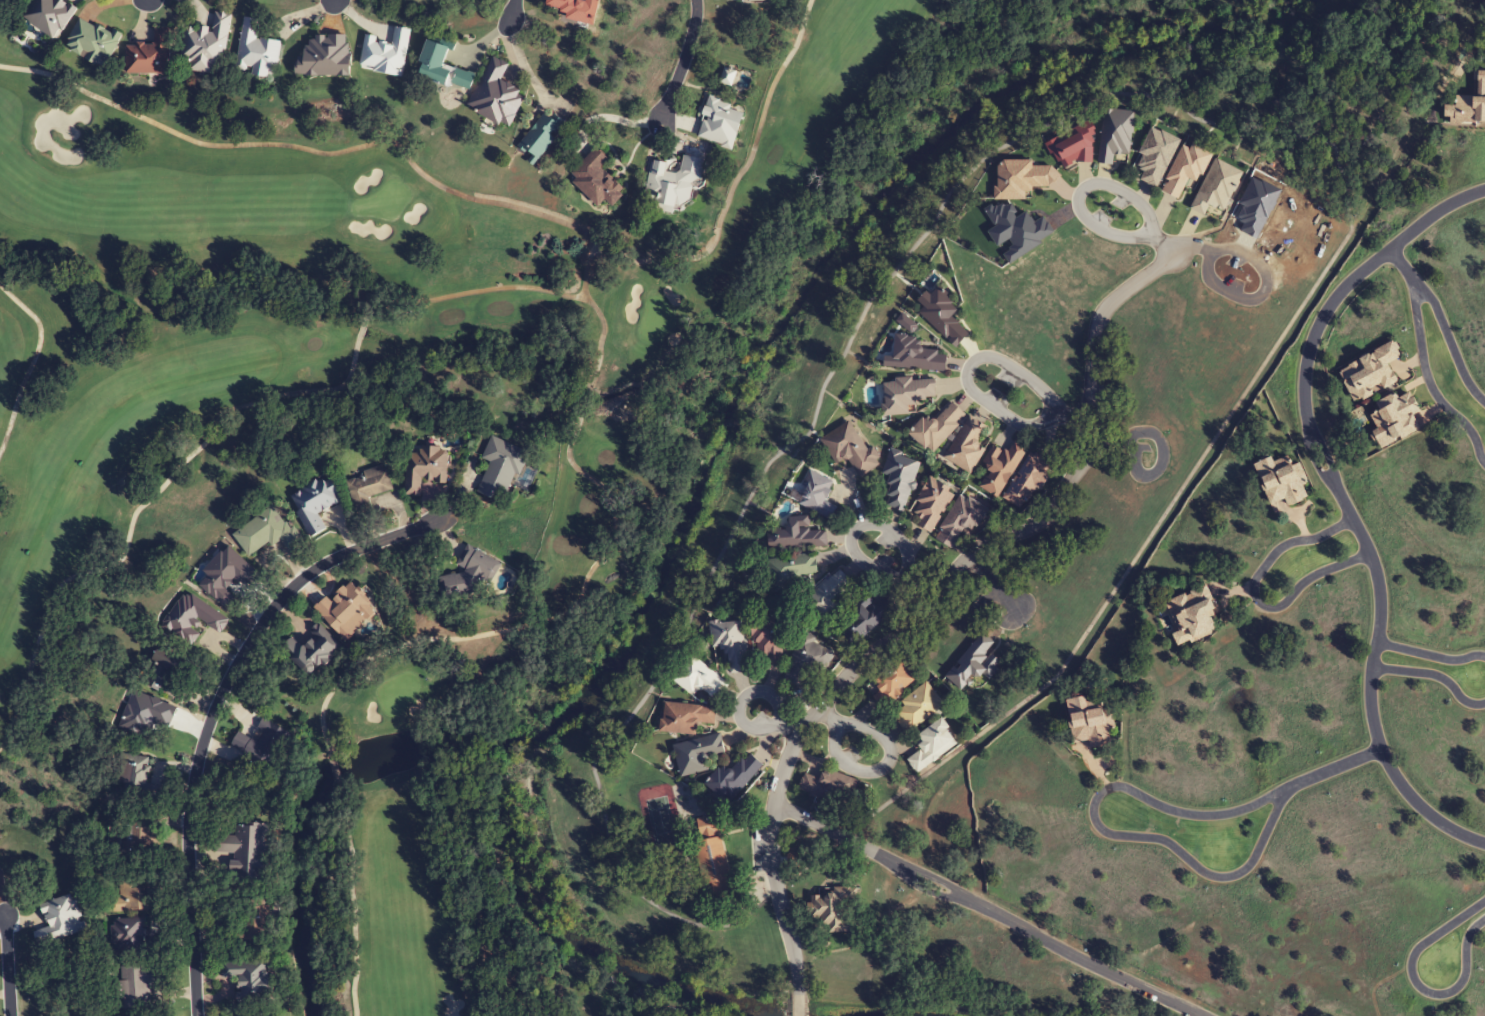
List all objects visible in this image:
building: (744, 0)
road: (334, 1)
park: (1414, 6)
road: (511, 12)
building: (48, 15)
building: (92, 41)
building: (205, 45)
building: (256, 51)
building: (385, 54)
building: (149, 55)
road: (681, 59)
building: (443, 68)
building: (496, 95)
building: (720, 123)
building: (541, 135)
building: (596, 180)
building: (673, 183)
road: (1077, 202)
road: (1165, 246)
road: (1193, 248)
road: (1401, 263)
road: (1248, 298)
road: (1413, 309)
building: (907, 323)
building: (915, 356)
road: (981, 357)
building: (1369, 372)
building: (906, 395)
park: (467, 416)
road: (1077, 417)
building: (1394, 418)
building: (937, 428)
road: (1105, 440)
building: (966, 446)
building: (850, 450)
road: (1161, 451)
building: (1000, 467)
building: (424, 468)
building: (500, 468)
building: (1028, 479)
building: (900, 480)
building: (1282, 481)
building: (367, 489)
building: (818, 495)
road: (1342, 500)
building: (314, 503)
building: (931, 504)
building: (960, 520)
road: (852, 531)
building: (266, 532)
building: (796, 536)
building: (789, 572)
building: (471, 574)
road: (992, 581)
road: (918, 593)
road: (1254, 596)
building: (828, 598)
road: (929, 608)
building: (1192, 615)
building: (192, 617)
building: (866, 618)
building: (768, 641)
building: (730, 644)
building: (316, 651)
road: (1430, 654)
building: (807, 660)
building: (166, 661)
road: (1433, 673)
building: (700, 679)
building: (892, 683)
road: (741, 700)
building: (917, 708)
road: (214, 709)
road: (824, 713)
building: (685, 718)
building: (1090, 721)
road: (786, 727)
building: (262, 745)
building: (932, 746)
road: (889, 750)
building: (696, 754)
building: (136, 779)
building: (733, 779)
building: (830, 787)
building: (143, 832)
road: (1149, 838)
building: (244, 849)
building: (714, 860)
building: (134, 897)
road: (986, 909)
building: (835, 911)
building: (59, 920)
building: (251, 925)
building: (133, 939)
road: (6, 965)
building: (249, 978)
building: (139, 984)
road: (1417, 984)

